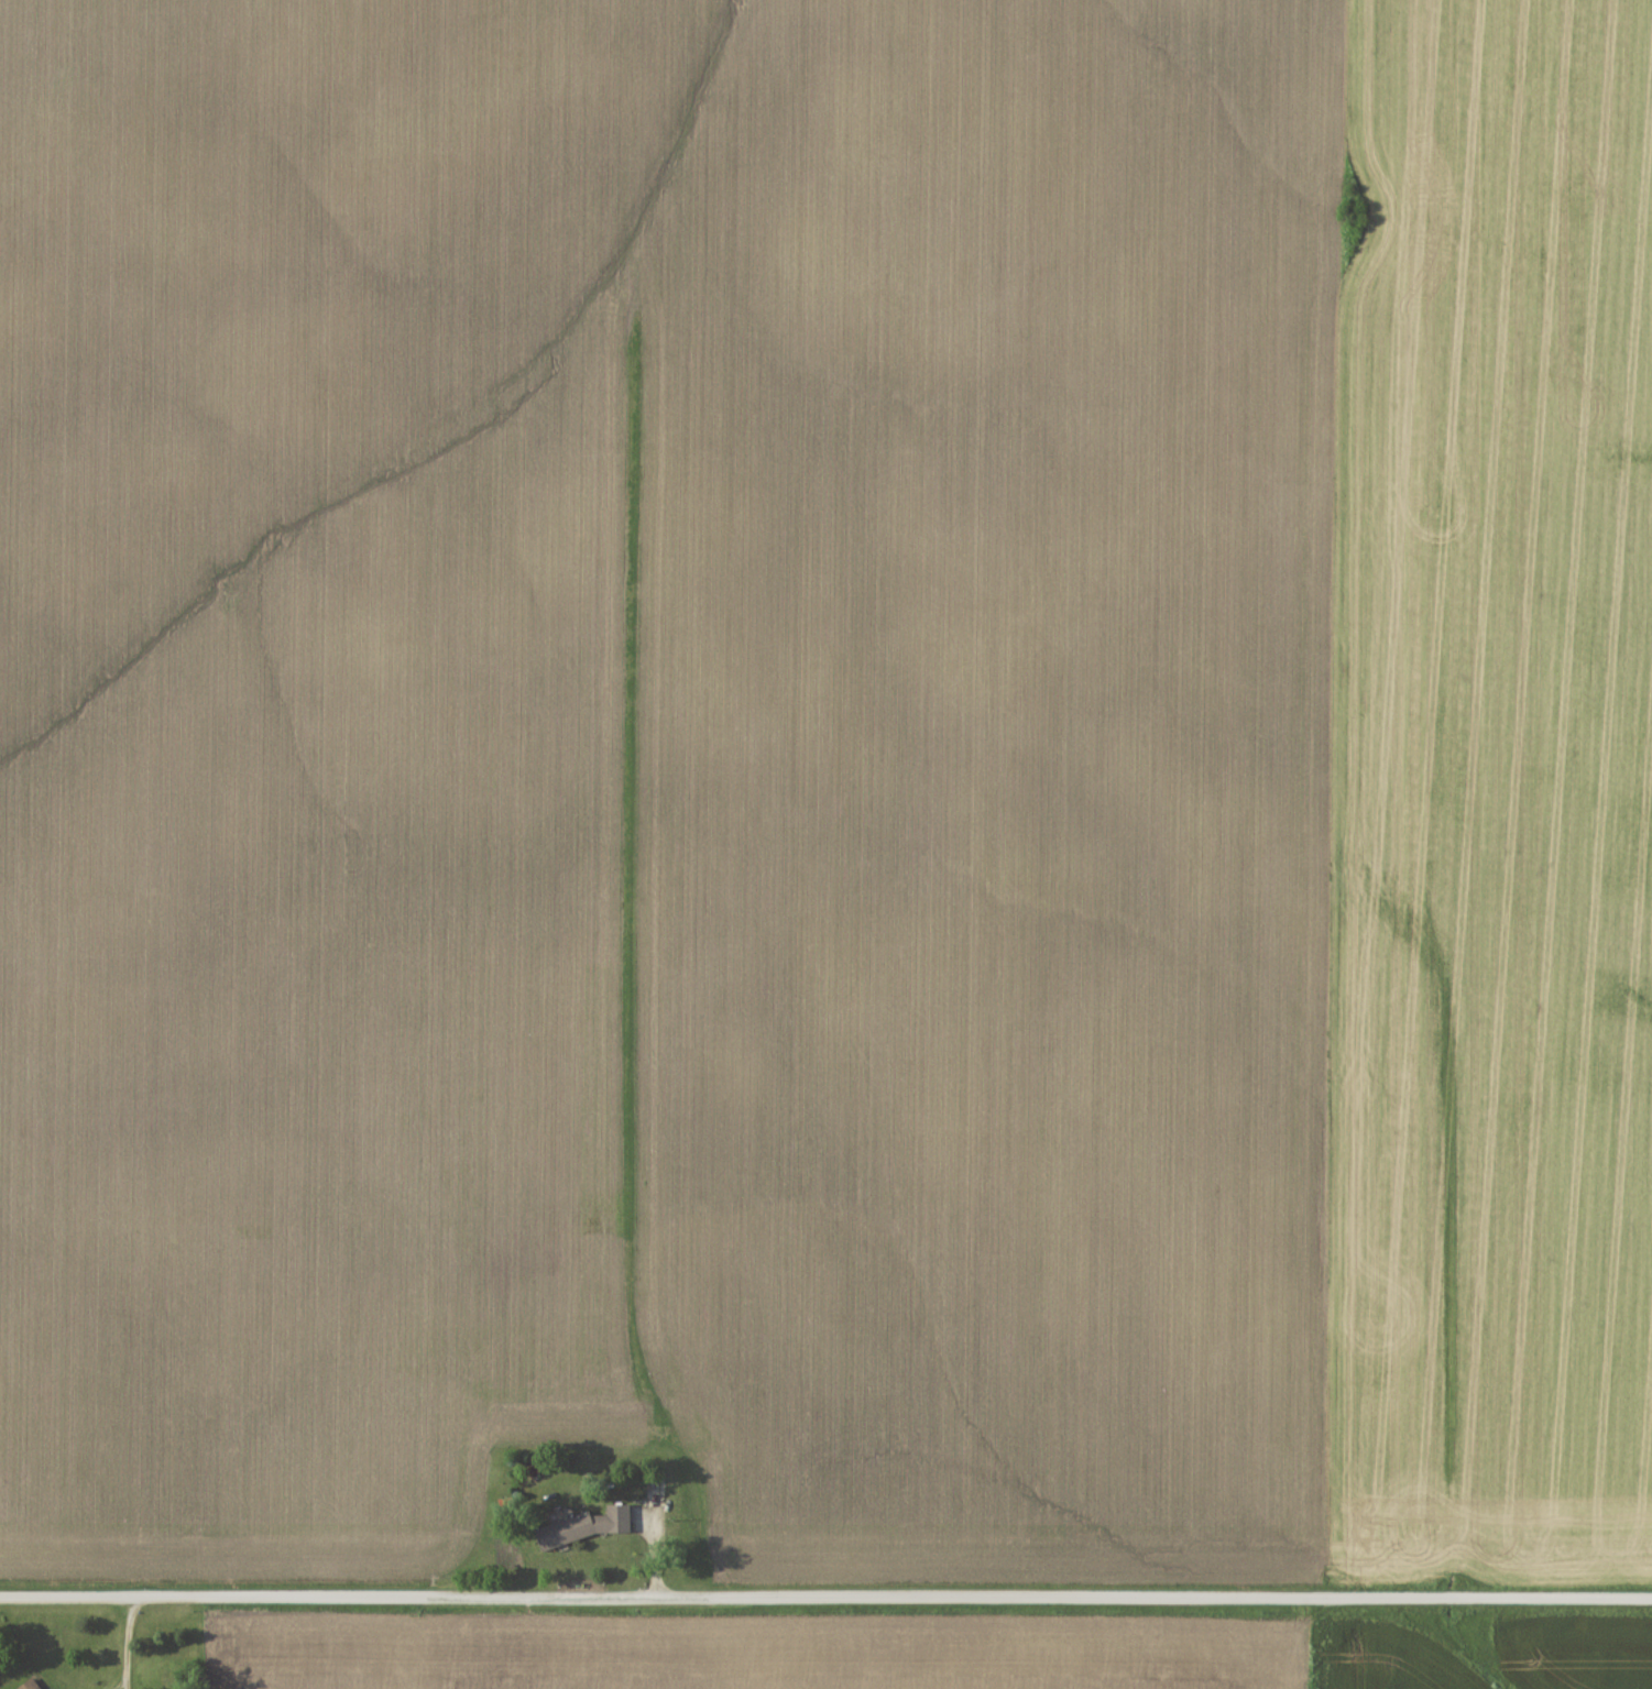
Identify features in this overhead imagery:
road: (825, 1597)
road: (130, 1638)
building: (32, 1685)

